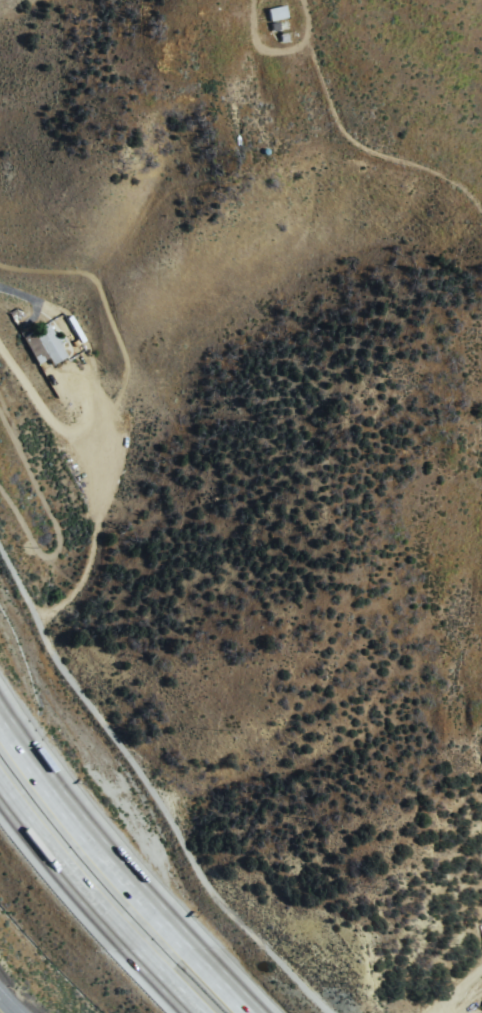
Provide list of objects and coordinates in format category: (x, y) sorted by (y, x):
building: (50, 343)
building: (35, 347)
road: (150, 793)
road: (119, 870)
road: (93, 904)
road: (460, 993)
road: (7, 1004)

